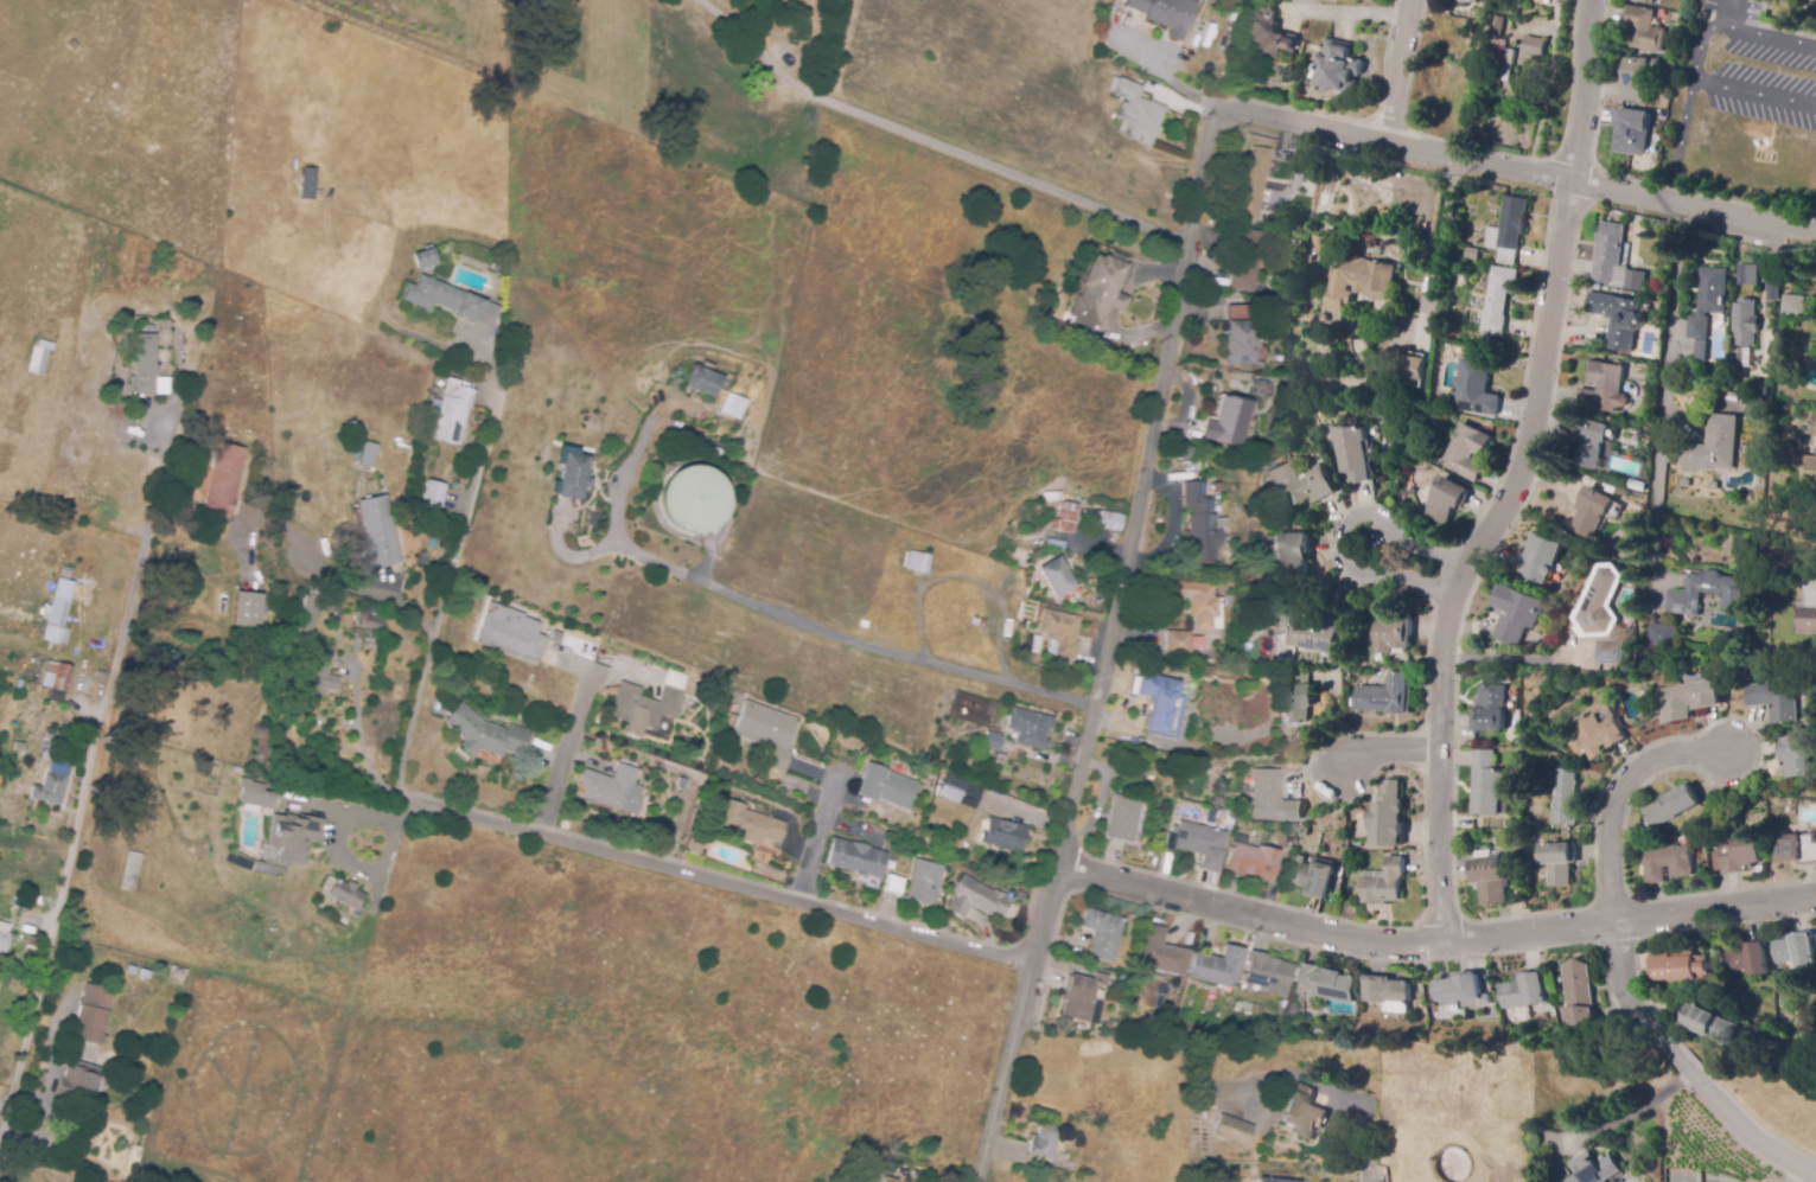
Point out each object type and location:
building: (1645, 1)
road: (1723, 12)
road: (1350, 13)
building: (1166, 14)
building: (1496, 28)
building: (1643, 30)
road: (1769, 36)
building: (1269, 37)
building: (70, 43)
building: (1535, 46)
road: (1697, 47)
building: (1500, 62)
road: (1158, 66)
building: (1337, 68)
road: (1397, 71)
building: (1632, 78)
road: (1753, 94)
building: (1136, 113)
building: (1661, 115)
building: (308, 130)
building: (1633, 133)
road: (931, 140)
road: (1678, 141)
road: (1515, 168)
building: (1253, 177)
building: (306, 185)
building: (1509, 231)
building: (1314, 243)
building: (1293, 245)
building: (1608, 251)
building: (1472, 254)
building: (1244, 256)
building: (423, 258)
building: (1747, 275)
building: (1357, 279)
building: (1635, 281)
building: (1100, 289)
building: (1260, 292)
building: (1498, 299)
building: (450, 301)
building: (1708, 301)
building: (1793, 305)
building: (1618, 319)
building: (1745, 322)
building: (146, 328)
building: (1240, 338)
building: (1700, 351)
building: (38, 359)
building: (1410, 364)
road: (491, 369)
building: (145, 370)
building: (1744, 372)
building: (702, 379)
building: (1604, 388)
building: (1473, 389)
road: (1663, 389)
building: (111, 401)
building: (731, 405)
building: (450, 409)
building: (136, 410)
building: (130, 422)
building: (1229, 422)
building: (1591, 443)
building: (1713, 446)
building: (1181, 449)
building: (1466, 452)
building: (1350, 453)
building: (369, 454)
building: (1807, 462)
road: (1515, 474)
building: (574, 475)
building: (223, 479)
building: (1683, 483)
building: (1301, 484)
building: (1635, 484)
building: (1712, 485)
building: (1215, 488)
building: (1621, 492)
building: (432, 497)
building: (1051, 497)
building: (690, 499)
building: (1446, 500)
road: (466, 509)
building: (1591, 512)
building: (1065, 518)
building: (1103, 519)
building: (1200, 524)
building: (377, 530)
road: (1337, 534)
building: (11, 537)
building: (1291, 551)
building: (1540, 560)
building: (917, 562)
building: (64, 574)
building: (1056, 577)
building: (1096, 582)
road: (365, 590)
building: (163, 594)
building: (1684, 594)
building: (1234, 600)
building: (1807, 601)
building: (1196, 602)
building: (1601, 605)
building: (246, 611)
road: (772, 612)
building: (1515, 613)
building: (56, 614)
building: (1039, 615)
building: (306, 616)
building: (371, 622)
building: (987, 628)
building: (510, 632)
building: (1063, 632)
building: (1391, 634)
building: (1315, 635)
building: (1663, 635)
building: (1177, 641)
building: (1033, 644)
road: (1114, 646)
building: (1614, 652)
building: (1190, 658)
building: (319, 676)
building: (187, 677)
building: (676, 679)
building: (55, 681)
building: (18, 686)
building: (697, 690)
building: (36, 694)
building: (1385, 696)
building: (1296, 697)
building: (1688, 699)
building: (1772, 699)
building: (1161, 705)
building: (644, 708)
road: (413, 710)
building: (1490, 710)
building: (1031, 727)
building: (485, 733)
building: (766, 733)
road: (358, 736)
building: (1598, 737)
building: (990, 740)
road: (565, 748)
road: (1390, 754)
building: (1796, 756)
building: (50, 782)
road: (87, 782)
building: (681, 782)
building: (1487, 784)
building: (886, 786)
building: (613, 788)
building: (963, 792)
building: (254, 793)
building: (1217, 797)
building: (1565, 798)
building: (1272, 799)
building: (1672, 807)
building: (1385, 816)
building: (1208, 818)
building: (1121, 819)
building: (750, 824)
building: (563, 825)
building: (1002, 835)
building: (294, 837)
road: (818, 839)
building: (1200, 843)
building: (695, 848)
building: (1796, 849)
building: (1739, 857)
building: (856, 858)
building: (1250, 862)
building: (1557, 862)
building: (1667, 863)
building: (1506, 870)
building: (130, 873)
building: (1312, 877)
road: (716, 880)
building: (1490, 880)
building: (1383, 882)
building: (925, 883)
building: (896, 886)
building: (1339, 887)
building: (345, 894)
building: (977, 899)
building: (15, 901)
building: (1102, 933)
building: (2, 943)
road: (1434, 943)
building: (27, 948)
building: (1796, 950)
building: (1161, 953)
building: (1747, 958)
road: (1617, 960)
building: (1680, 966)
building: (1217, 967)
building: (142, 975)
building: (1267, 975)
building: (1326, 983)
building: (1524, 990)
building: (1459, 991)
building: (1387, 993)
building: (1578, 995)
building: (1081, 1001)
building: (1244, 1009)
building: (1294, 1009)
building: (90, 1015)
building: (1540, 1017)
building: (1710, 1024)
building: (1713, 1050)
building: (116, 1060)
building: (77, 1085)
building: (1208, 1101)
road: (1, 1108)
building: (1304, 1113)
road: (1630, 1113)
building: (1232, 1130)
building: (1044, 1142)
building: (1593, 1169)
road: (1798, 1174)
building: (918, 1176)
road: (1371, 1176)
building: (894, 1180)
building: (1267, 1181)

